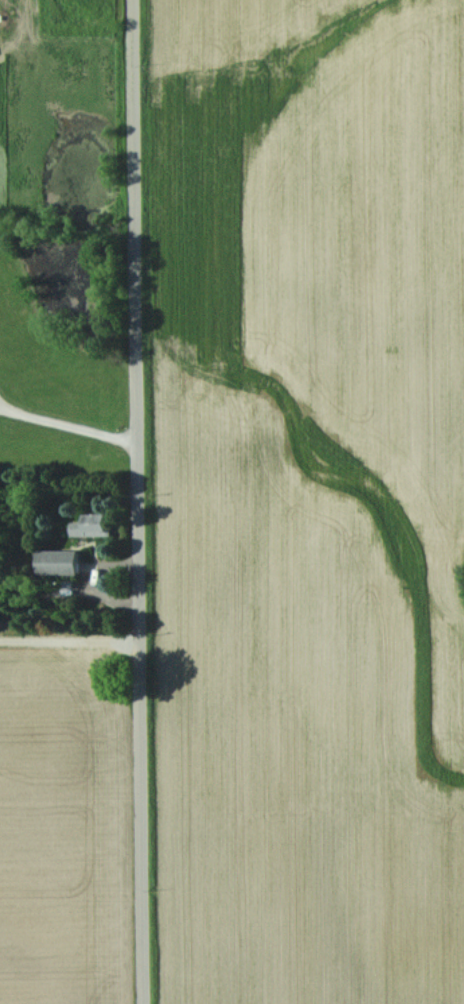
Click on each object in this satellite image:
road: (1, 407)
road: (67, 425)
road: (136, 502)
building: (93, 525)
building: (59, 561)

